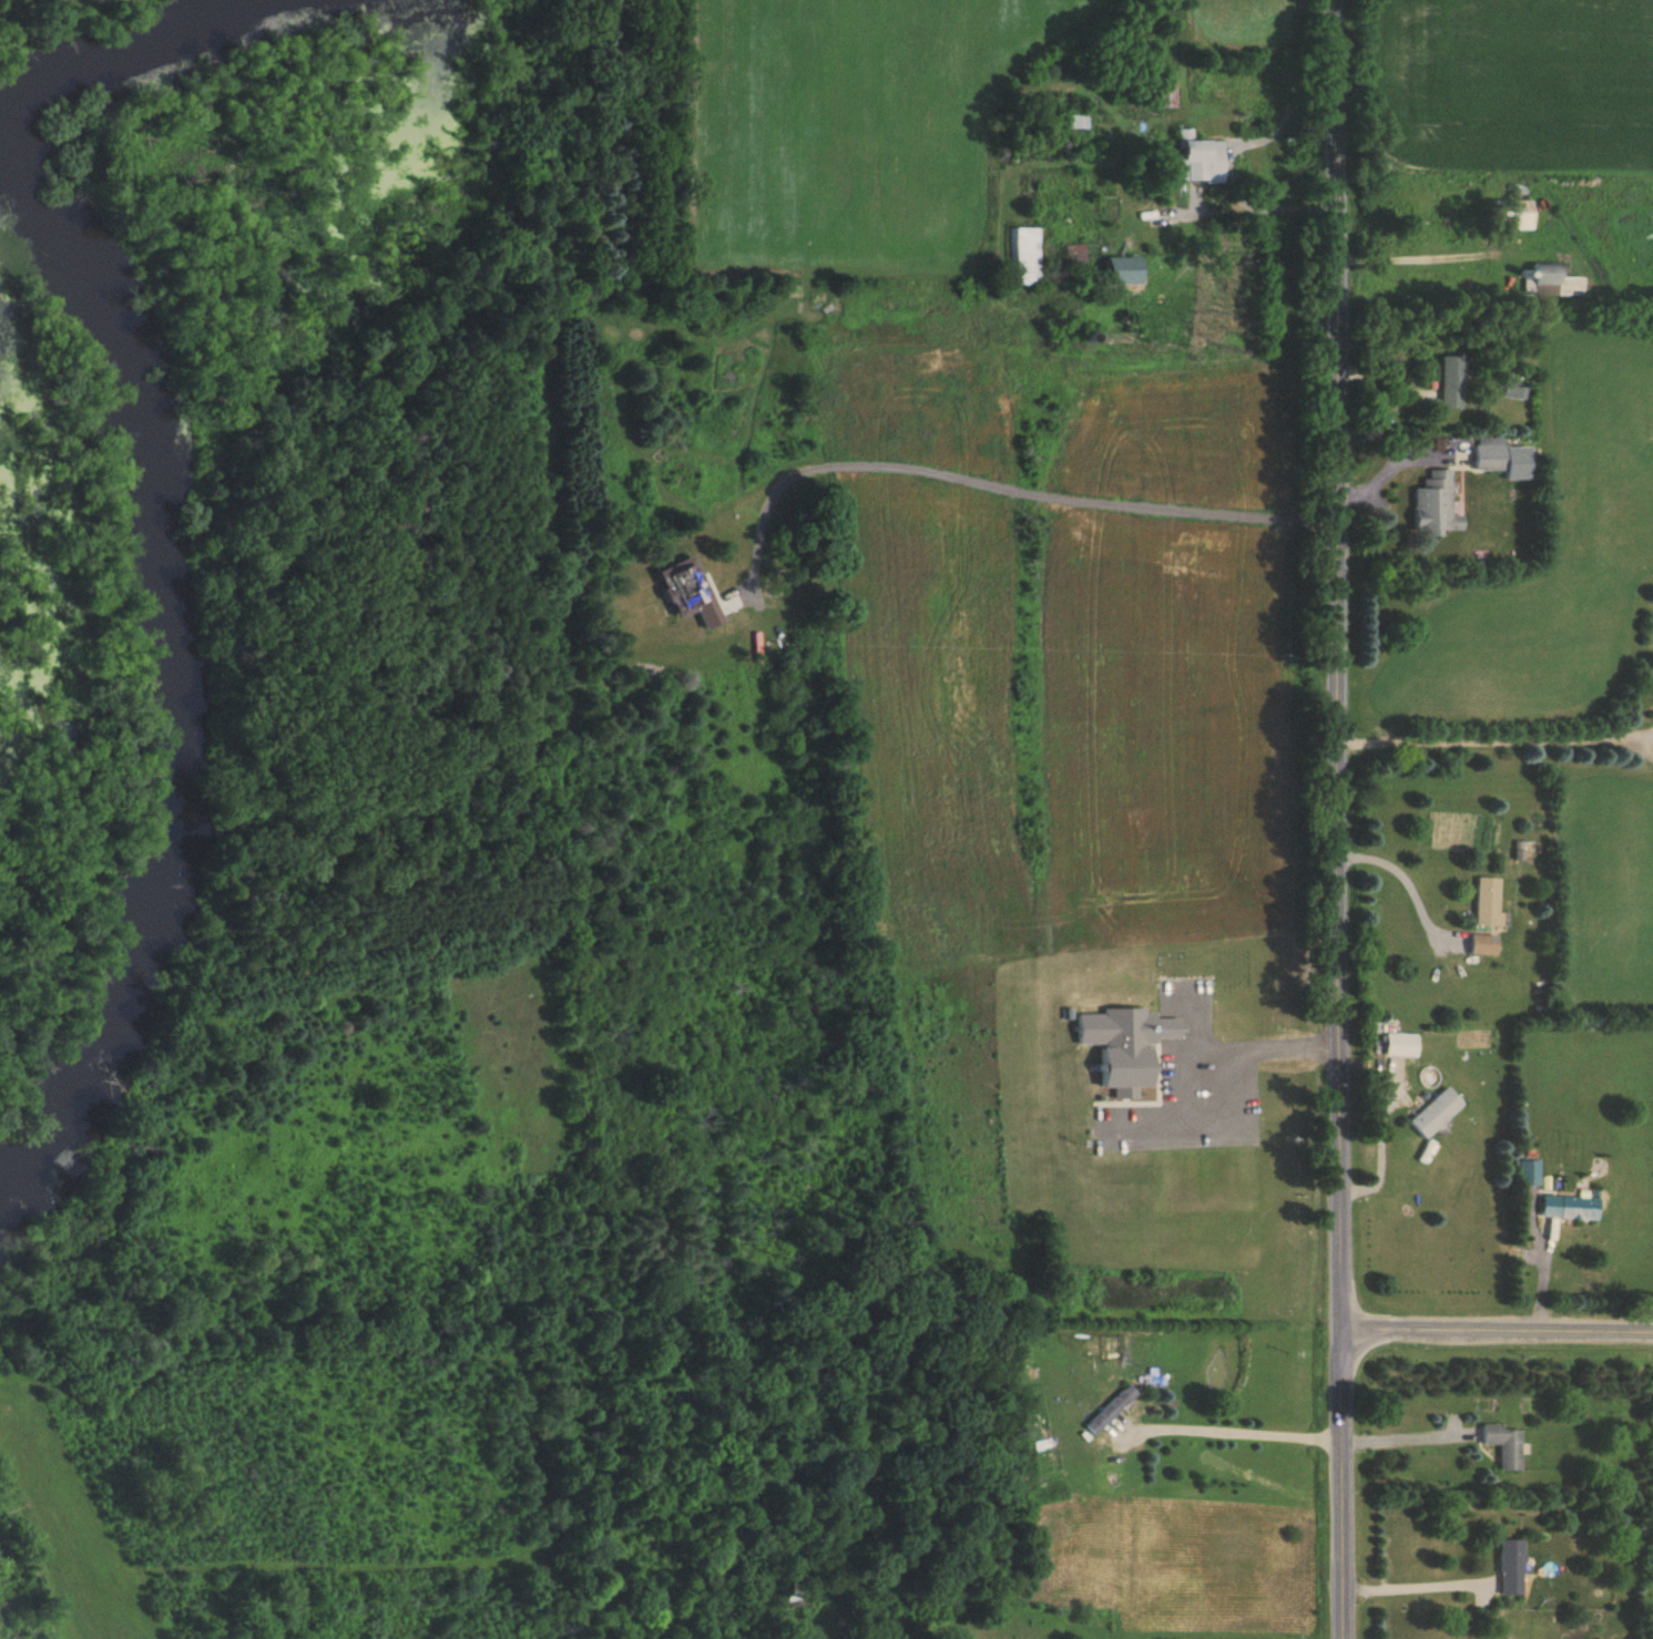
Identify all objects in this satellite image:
river: (154, 54)
building: (1160, 93)
road: (1241, 150)
building: (1194, 158)
building: (1511, 215)
building: (1027, 256)
road: (1436, 257)
building: (1079, 259)
building: (1116, 270)
building: (1552, 281)
building: (1449, 382)
building: (1488, 455)
road: (1004, 467)
building: (1432, 505)
river: (193, 695)
road: (1492, 737)
road: (1346, 819)
road: (1408, 879)
building: (1486, 903)
building: (1478, 945)
road: (1262, 1054)
building: (1431, 1113)
road: (1378, 1135)
building: (1528, 1172)
building: (1568, 1208)
road: (1325, 1292)
road: (1500, 1310)
road: (0, 1376)
building: (1110, 1410)
road: (1235, 1431)
road: (1407, 1436)
building: (1501, 1444)
building: (1508, 1567)
road: (1415, 1586)
building: (797, 1597)
road: (1, 1633)

